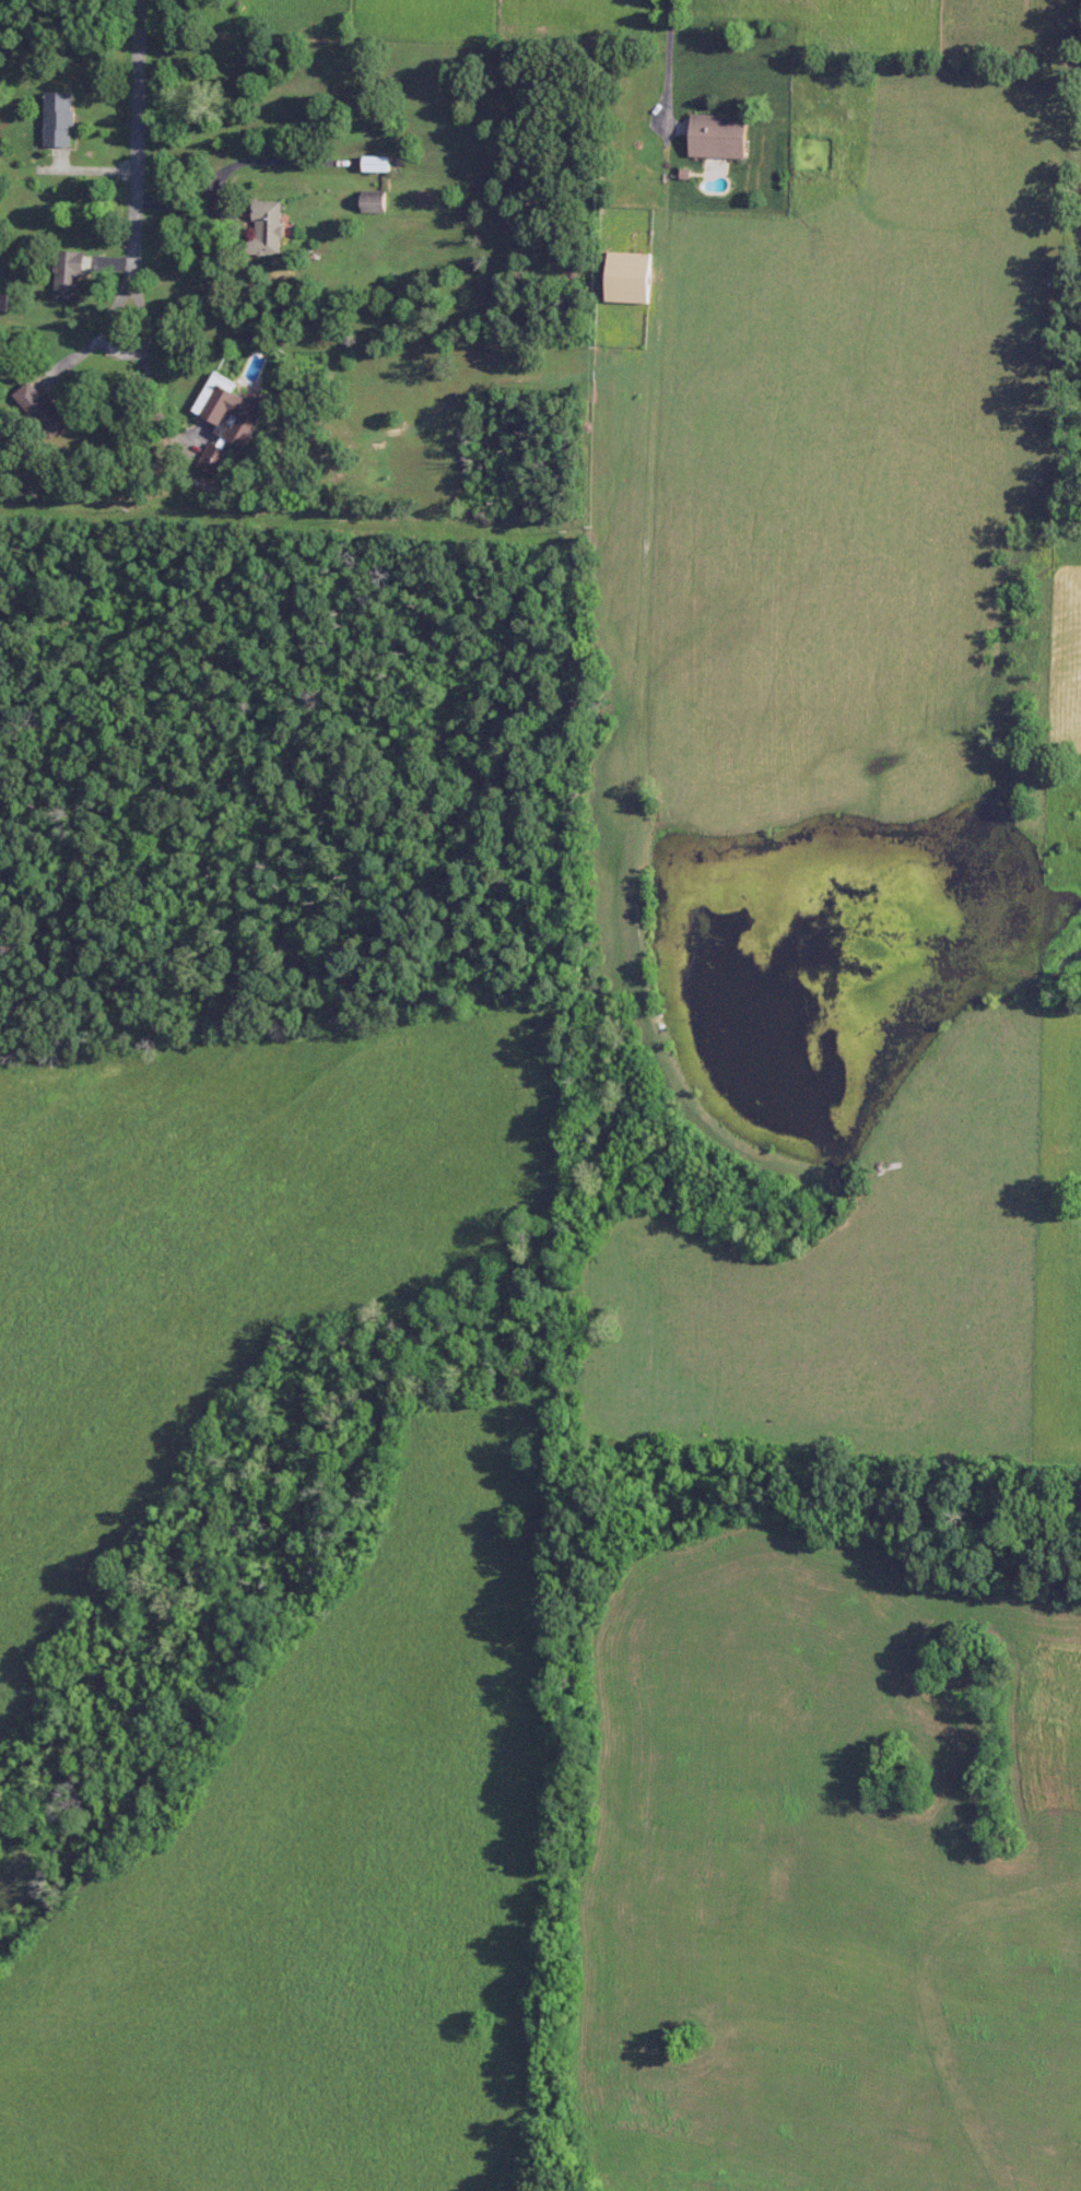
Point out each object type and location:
road: (667, 58)
building: (60, 118)
road: (139, 134)
building: (721, 134)
building: (380, 162)
building: (376, 200)
road: (189, 208)
building: (271, 226)
building: (71, 272)
building: (632, 276)
building: (4, 302)
road: (115, 310)
building: (45, 408)
road: (149, 408)
building: (235, 412)

